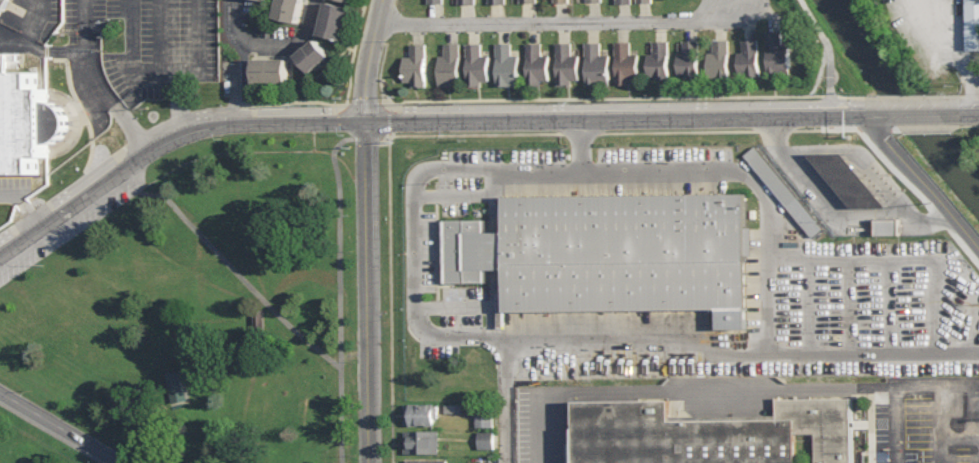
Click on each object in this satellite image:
building: (265, 0)
building: (347, 0)
building: (432, 0)
building: (592, 0)
building: (463, 1)
building: (495, 1)
building: (526, 1)
building: (561, 1)
building: (621, 1)
building: (641, 1)
building: (2, 4)
building: (287, 11)
road: (555, 18)
road: (310, 20)
building: (333, 21)
road: (390, 22)
road: (32, 24)
building: (972, 24)
parking lot: (31, 25)
parking lot: (935, 31)
parking lot: (150, 39)
road: (252, 43)
road: (825, 47)
road: (42, 49)
building: (773, 50)
road: (955, 52)
road: (197, 56)
building: (312, 56)
road: (245, 58)
building: (718, 58)
building: (656, 59)
building: (747, 59)
road: (368, 60)
building: (474, 61)
building: (534, 61)
building: (595, 61)
building: (687, 61)
building: (626, 62)
building: (447, 63)
building: (505, 63)
building: (564, 63)
building: (413, 64)
building: (270, 71)
road: (144, 73)
road: (97, 83)
road: (910, 97)
road: (956, 97)
road: (971, 97)
road: (596, 99)
road: (180, 104)
road: (346, 104)
road: (610, 105)
road: (847, 106)
road: (364, 108)
road: (969, 111)
road: (847, 112)
road: (869, 112)
road: (917, 112)
road: (597, 115)
building: (26, 118)
road: (976, 124)
road: (216, 125)
road: (935, 126)
road: (875, 128)
road: (824, 129)
road: (775, 130)
road: (155, 131)
road: (679, 131)
road: (581, 133)
road: (386, 137)
road: (579, 141)
road: (252, 151)
road: (711, 167)
road: (871, 168)
building: (846, 180)
road: (922, 180)
road: (905, 181)
parking lot: (14, 187)
building: (781, 191)
road: (464, 195)
road: (820, 197)
road: (24, 204)
road: (390, 213)
road: (44, 224)
parking lot: (74, 225)
building: (886, 226)
parking lot: (422, 251)
road: (969, 253)
building: (609, 254)
road: (340, 259)
road: (905, 263)
road: (364, 292)
road: (467, 305)
road: (278, 306)
road: (808, 307)
road: (846, 307)
road: (890, 307)
road: (934, 307)
road: (767, 308)
parking lot: (860, 308)
park: (193, 312)
road: (540, 334)
building: (177, 389)
road: (505, 398)
parking lot: (771, 412)
building: (421, 414)
building: (484, 418)
road: (60, 427)
building: (710, 432)
building: (485, 440)
building: (421, 441)
building: (568, 452)
building: (426, 461)

